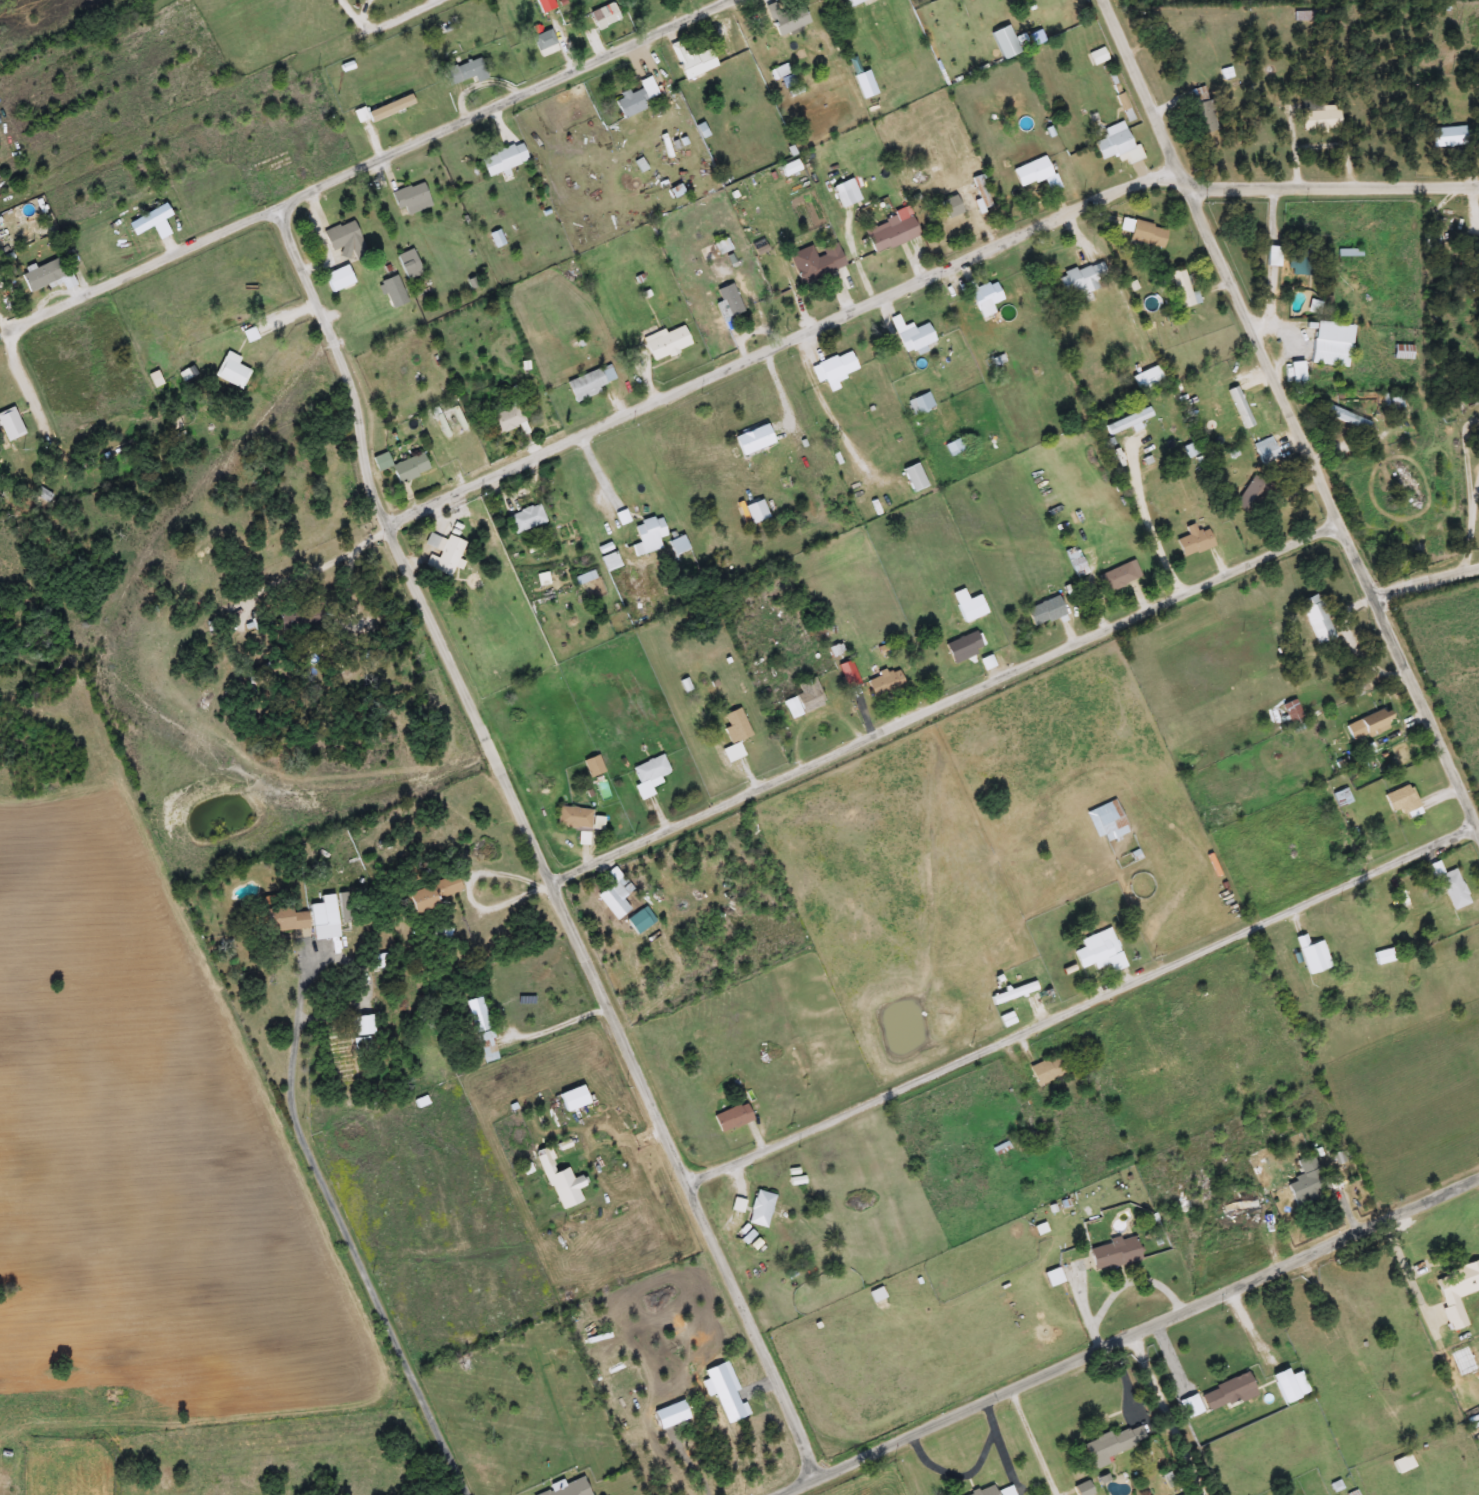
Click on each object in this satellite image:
building: (853, 2)
building: (544, 5)
building: (1041, 14)
building: (603, 15)
building: (786, 17)
building: (1176, 30)
road: (567, 37)
building: (544, 44)
building: (696, 65)
building: (464, 73)
building: (633, 99)
building: (389, 108)
building: (1318, 118)
building: (1448, 137)
building: (1116, 144)
building: (502, 160)
building: (788, 168)
building: (1030, 172)
road: (1333, 184)
road: (316, 185)
building: (844, 193)
building: (980, 194)
building: (411, 198)
building: (949, 207)
building: (1144, 233)
building: (891, 234)
building: (344, 238)
building: (1430, 239)
building: (1271, 256)
building: (1477, 259)
building: (1298, 260)
building: (815, 263)
building: (408, 265)
building: (338, 278)
building: (1082, 278)
building: (1181, 288)
building: (985, 298)
building: (727, 301)
building: (912, 335)
road: (781, 339)
building: (665, 342)
building: (1329, 345)
building: (1402, 352)
building: (833, 369)
building: (231, 371)
building: (1297, 377)
building: (1146, 380)
building: (590, 382)
building: (1392, 402)
building: (920, 404)
road: (1290, 414)
building: (505, 419)
building: (1127, 421)
building: (9, 425)
building: (752, 440)
building: (953, 447)
road: (1466, 451)
building: (1266, 452)
building: (401, 466)
building: (913, 478)
road: (1477, 484)
building: (1249, 495)
road: (612, 510)
building: (525, 519)
road: (1471, 530)
building: (648, 536)
building: (1193, 541)
building: (677, 546)
building: (443, 554)
road: (318, 562)
building: (610, 562)
building: (1119, 577)
building: (584, 578)
road: (1425, 578)
building: (968, 606)
building: (1044, 612)
building: (1317, 619)
building: (962, 648)
building: (848, 673)
building: (884, 682)
road: (1358, 687)
building: (809, 695)
road: (945, 701)
building: (1291, 711)
road: (867, 715)
building: (1366, 725)
building: (735, 734)
building: (593, 765)
road: (754, 773)
building: (648, 775)
building: (1400, 800)
building: (573, 818)
building: (1109, 820)
road: (534, 844)
road: (512, 883)
building: (1449, 885)
building: (431, 893)
building: (616, 898)
building: (1403, 898)
building: (346, 908)
building: (321, 914)
building: (282, 919)
building: (640, 920)
building: (1099, 951)
building: (1312, 955)
building: (1383, 956)
building: (1013, 993)
road: (1081, 1003)
road: (554, 1024)
building: (481, 1029)
building: (347, 1050)
building: (1048, 1070)
building: (572, 1098)
building: (731, 1118)
building: (559, 1181)
building: (1304, 1182)
building: (1243, 1208)
building: (760, 1209)
road: (343, 1228)
building: (744, 1234)
building: (1113, 1253)
building: (1052, 1276)
building: (1456, 1290)
road: (1250, 1325)
road: (1130, 1335)
building: (1283, 1385)
building: (1227, 1393)
road: (1168, 1414)
road: (1035, 1441)
building: (1115, 1444)
building: (1402, 1463)
building: (569, 1488)

